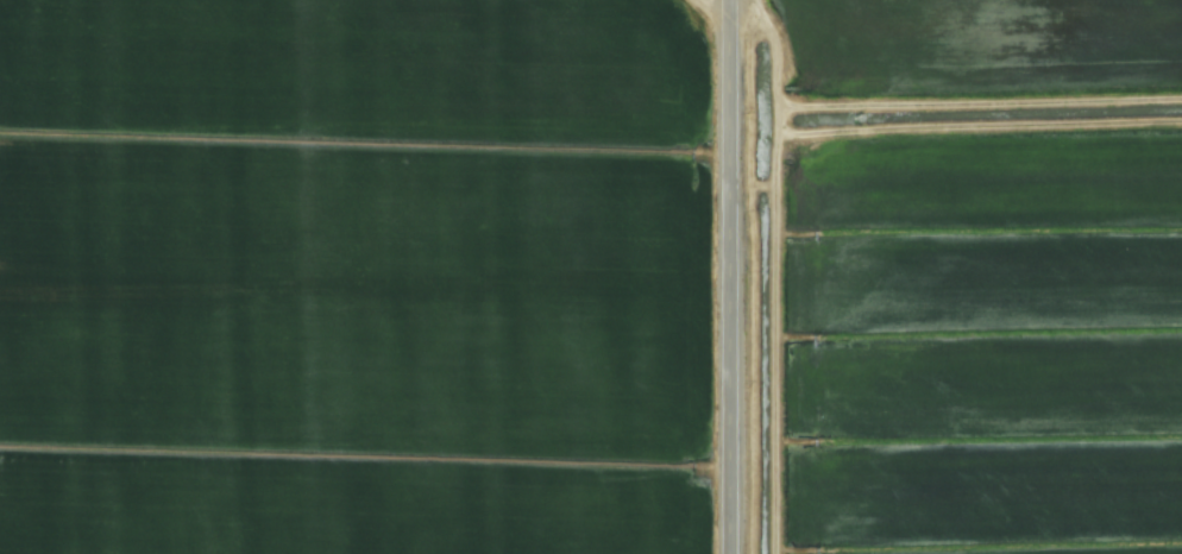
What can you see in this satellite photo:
road: (727, 277)

